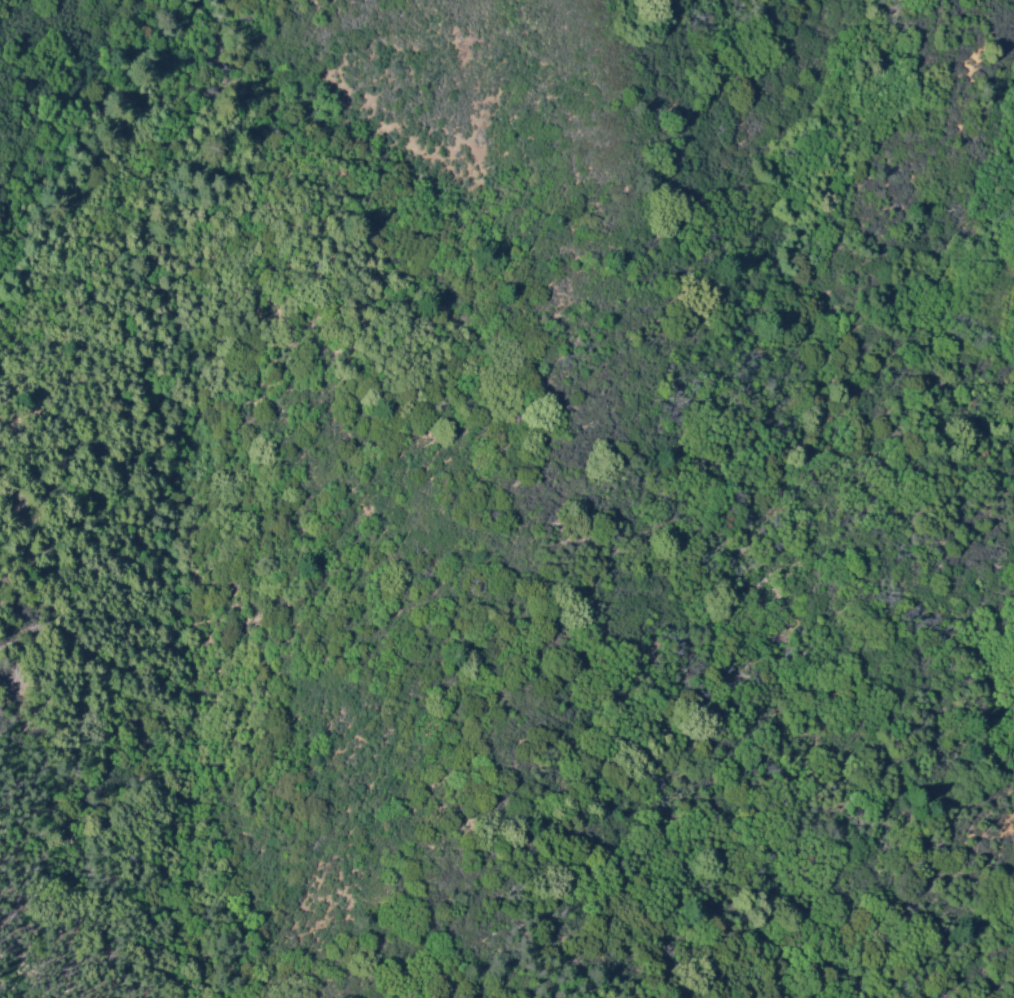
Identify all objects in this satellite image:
road: (98, 137)

